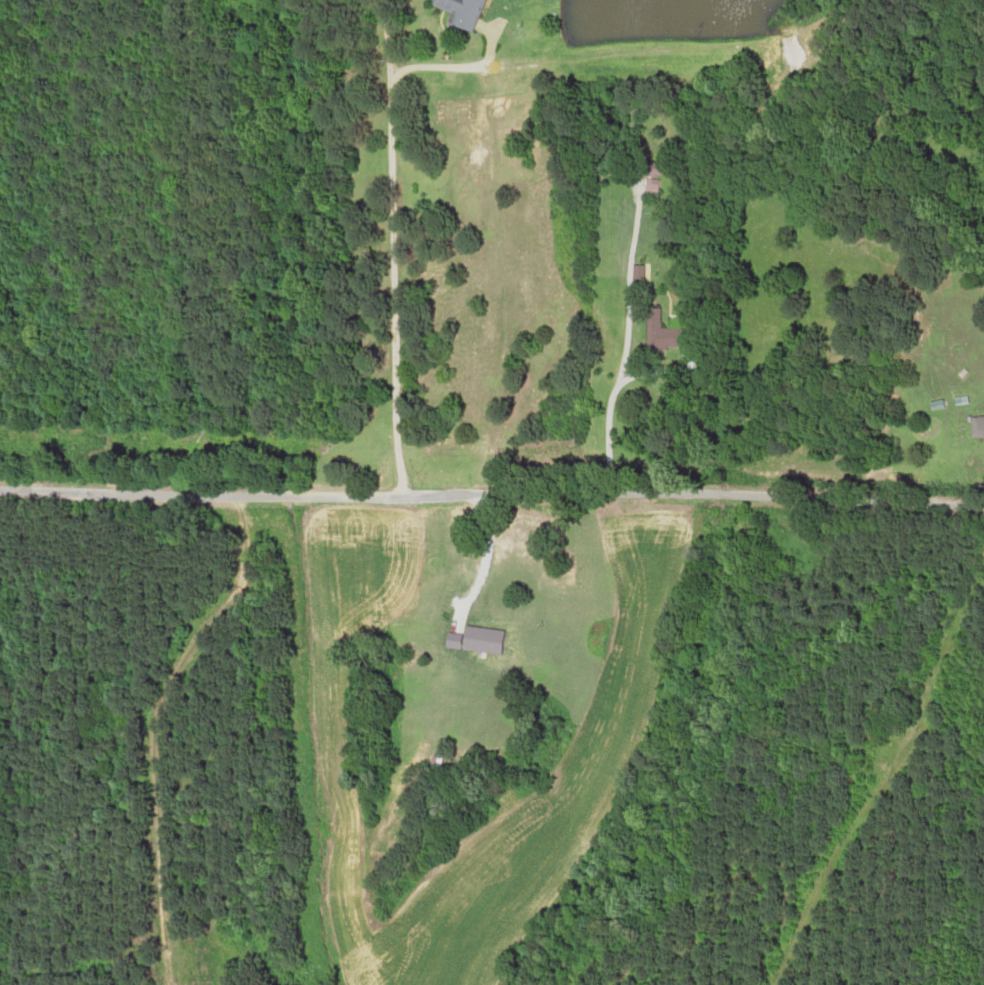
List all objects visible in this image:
building: (475, 11)
building: (655, 187)
building: (674, 337)
road: (626, 340)
road: (493, 499)

